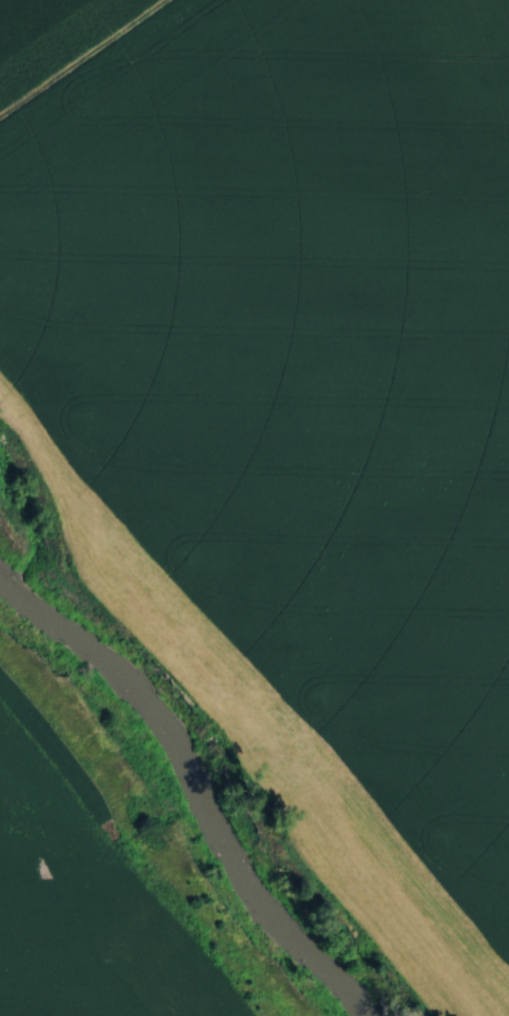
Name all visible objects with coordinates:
river: (193, 788)

